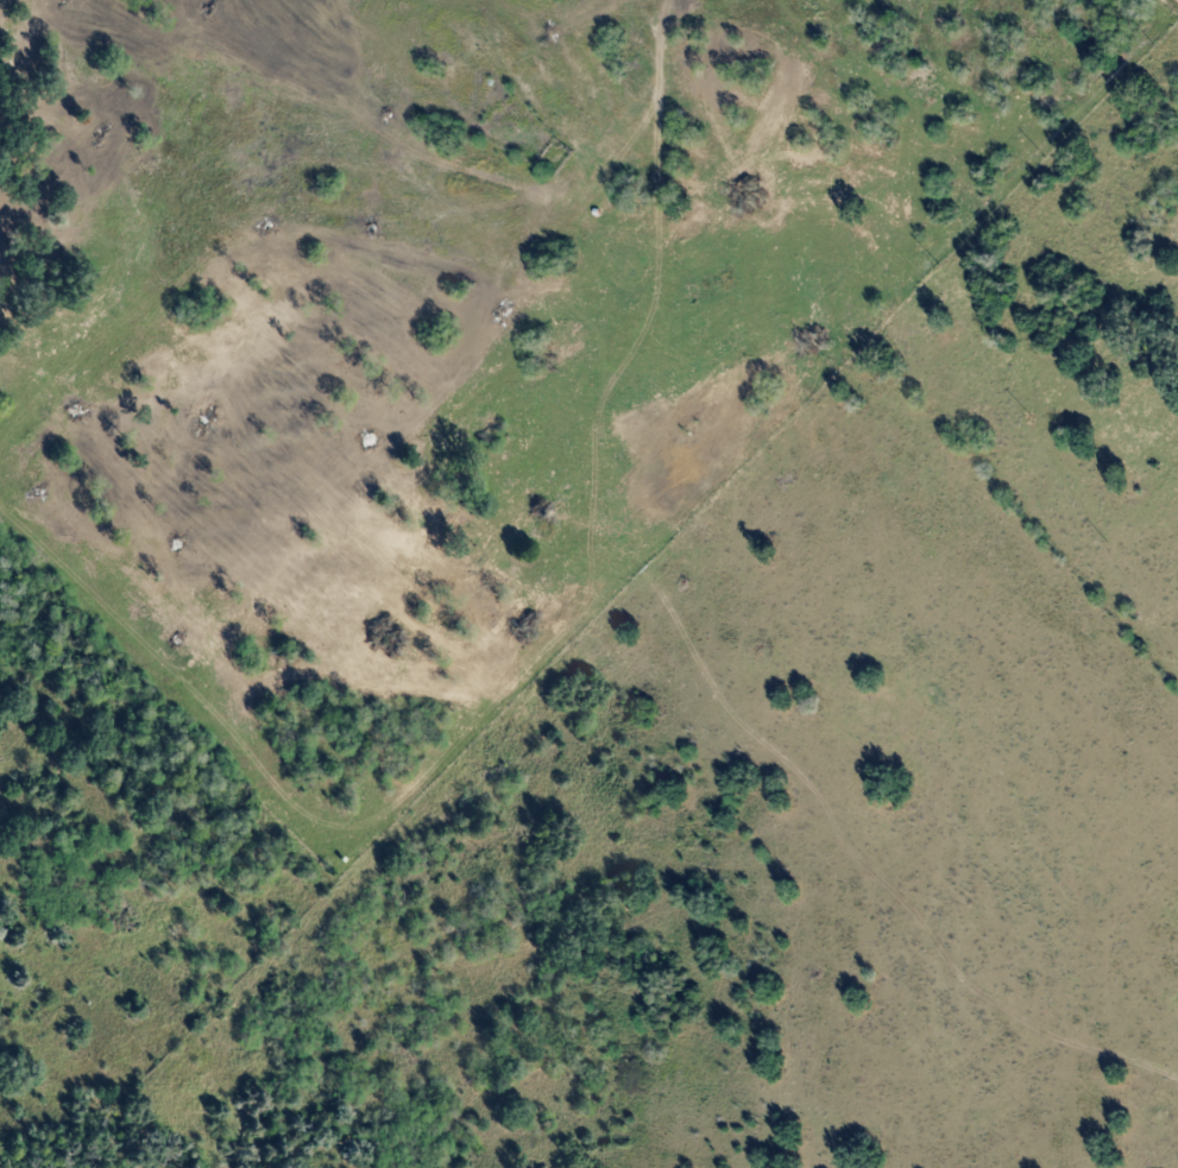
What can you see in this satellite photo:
road: (754, 214)

